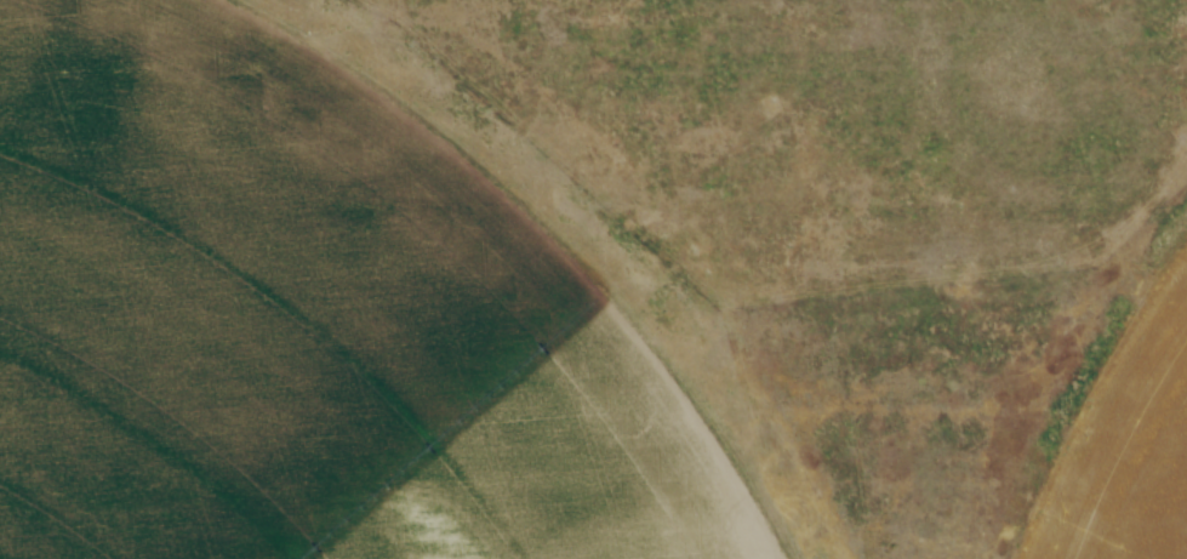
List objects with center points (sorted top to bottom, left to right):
crop: (295, 325)
crop: (1129, 451)

